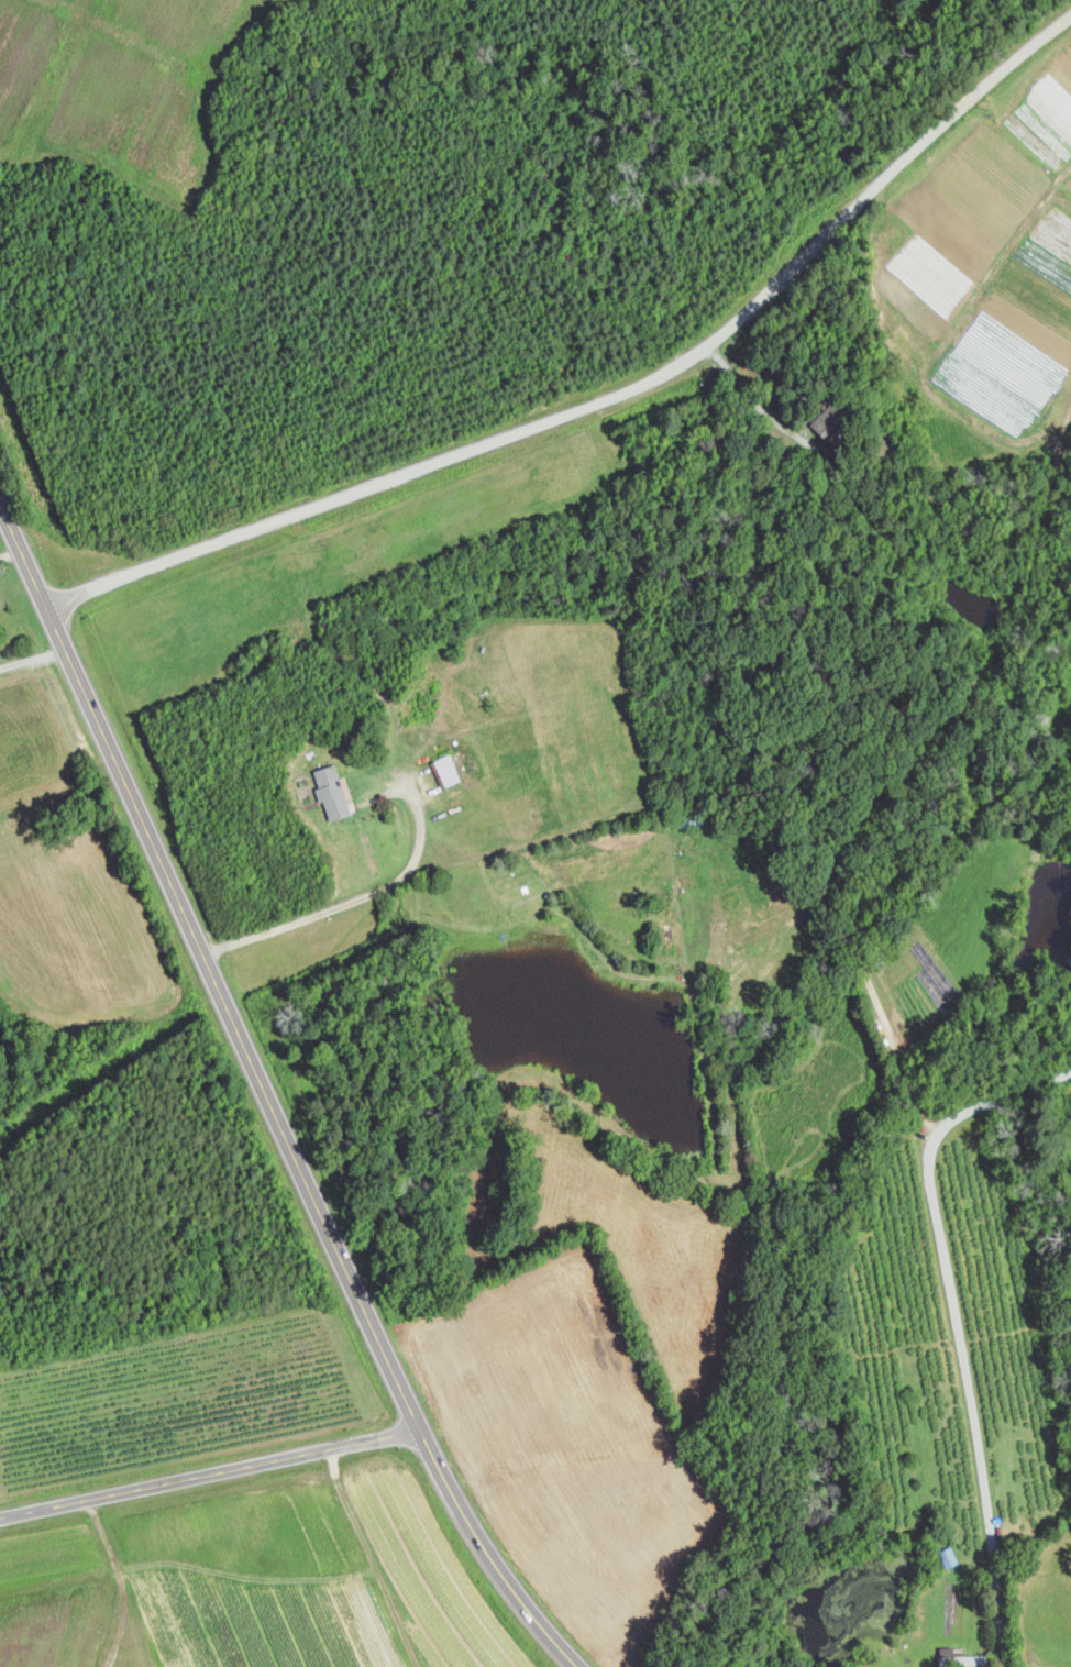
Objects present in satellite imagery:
road: (749, 395)
road: (609, 399)
building: (832, 419)
road: (32, 658)
building: (449, 769)
building: (334, 791)
road: (349, 901)
road: (266, 1096)
road: (958, 1324)
road: (207, 1472)
building: (962, 1657)

